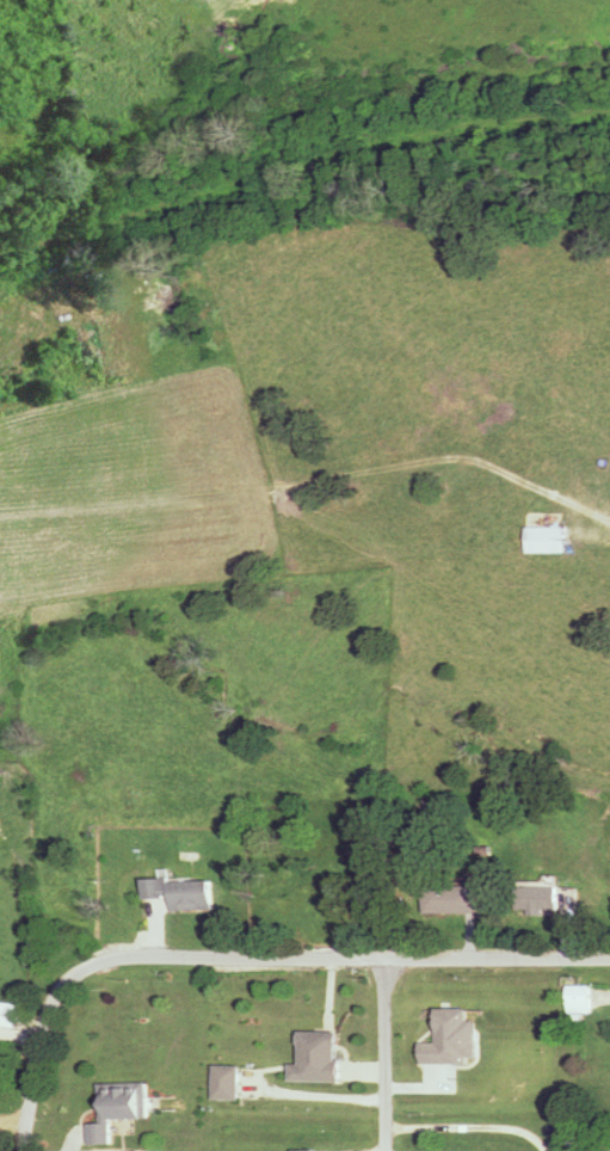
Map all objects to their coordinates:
building: (553, 467)
building: (543, 538)
building: (606, 546)
building: (179, 893)
building: (538, 897)
building: (452, 899)
road: (246, 956)
building: (579, 999)
road: (380, 1053)
building: (316, 1058)
building: (224, 1083)
building: (118, 1108)
building: (307, 1150)

